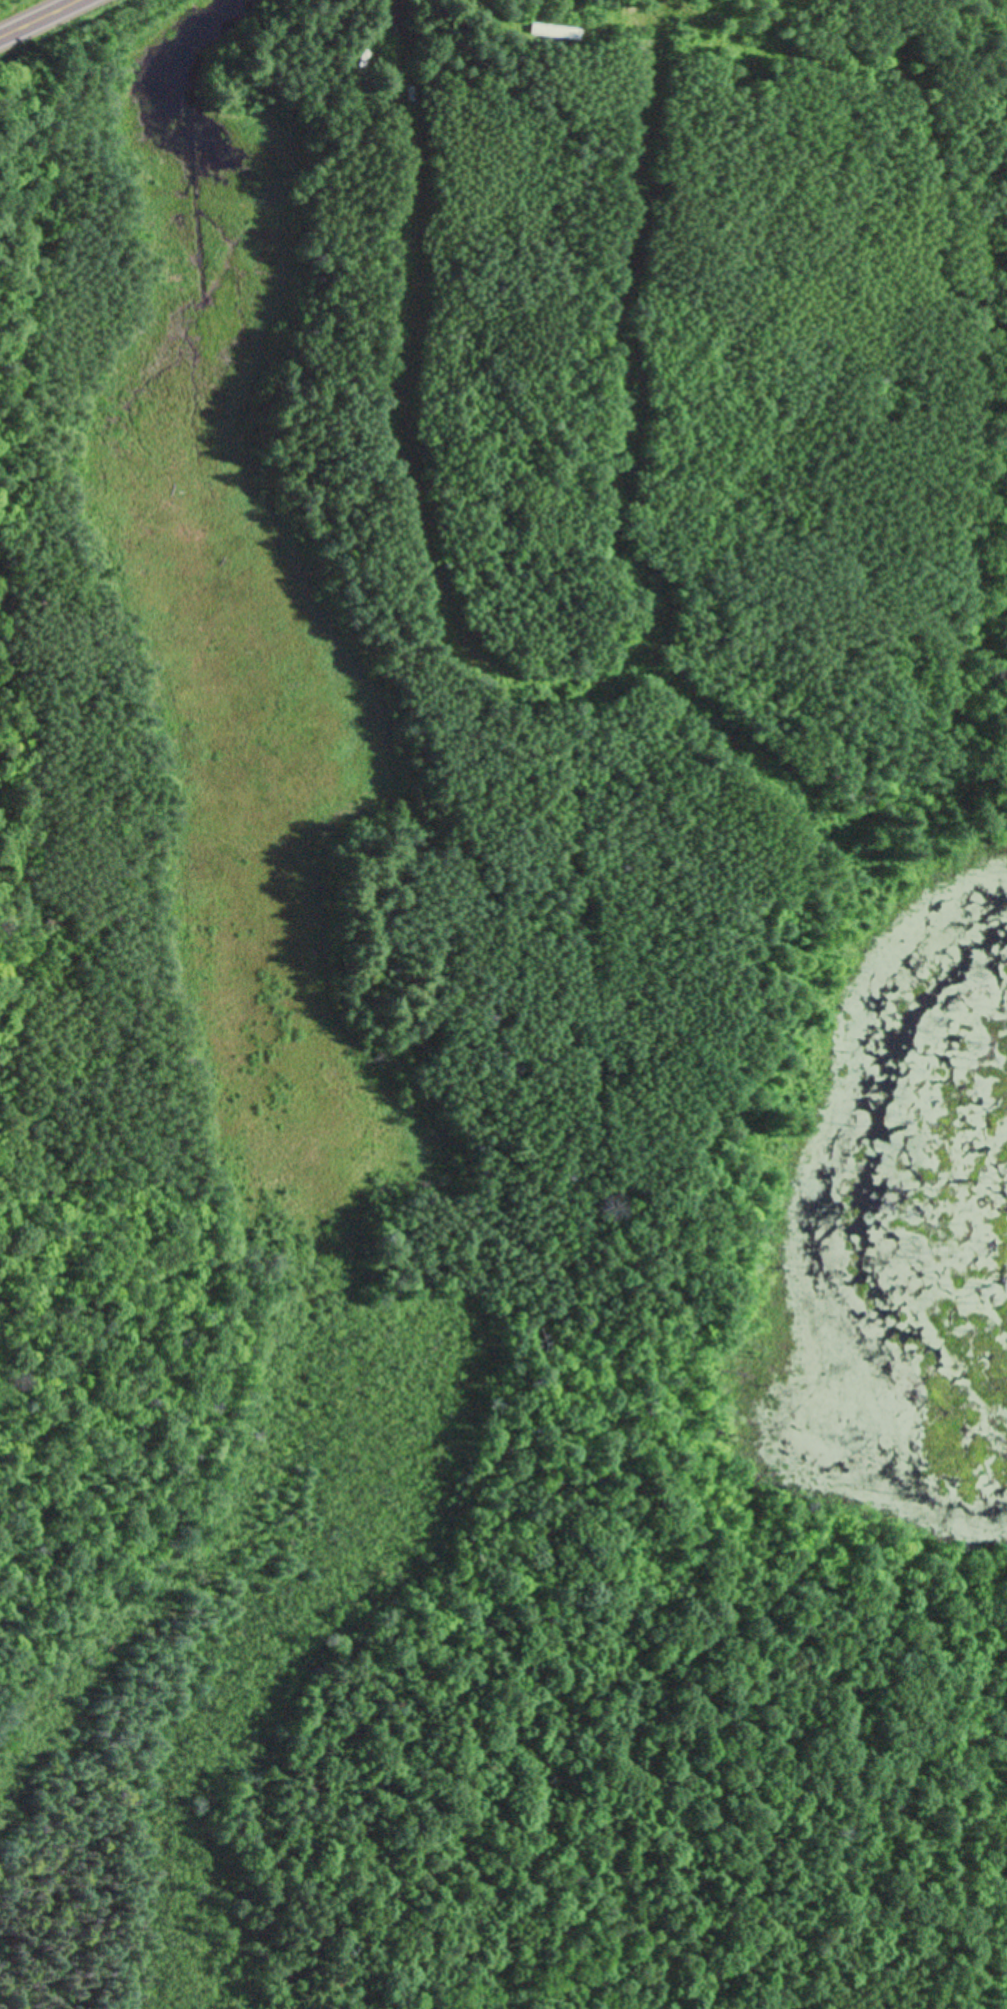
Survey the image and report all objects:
road: (35, 17)
building: (397, 21)

